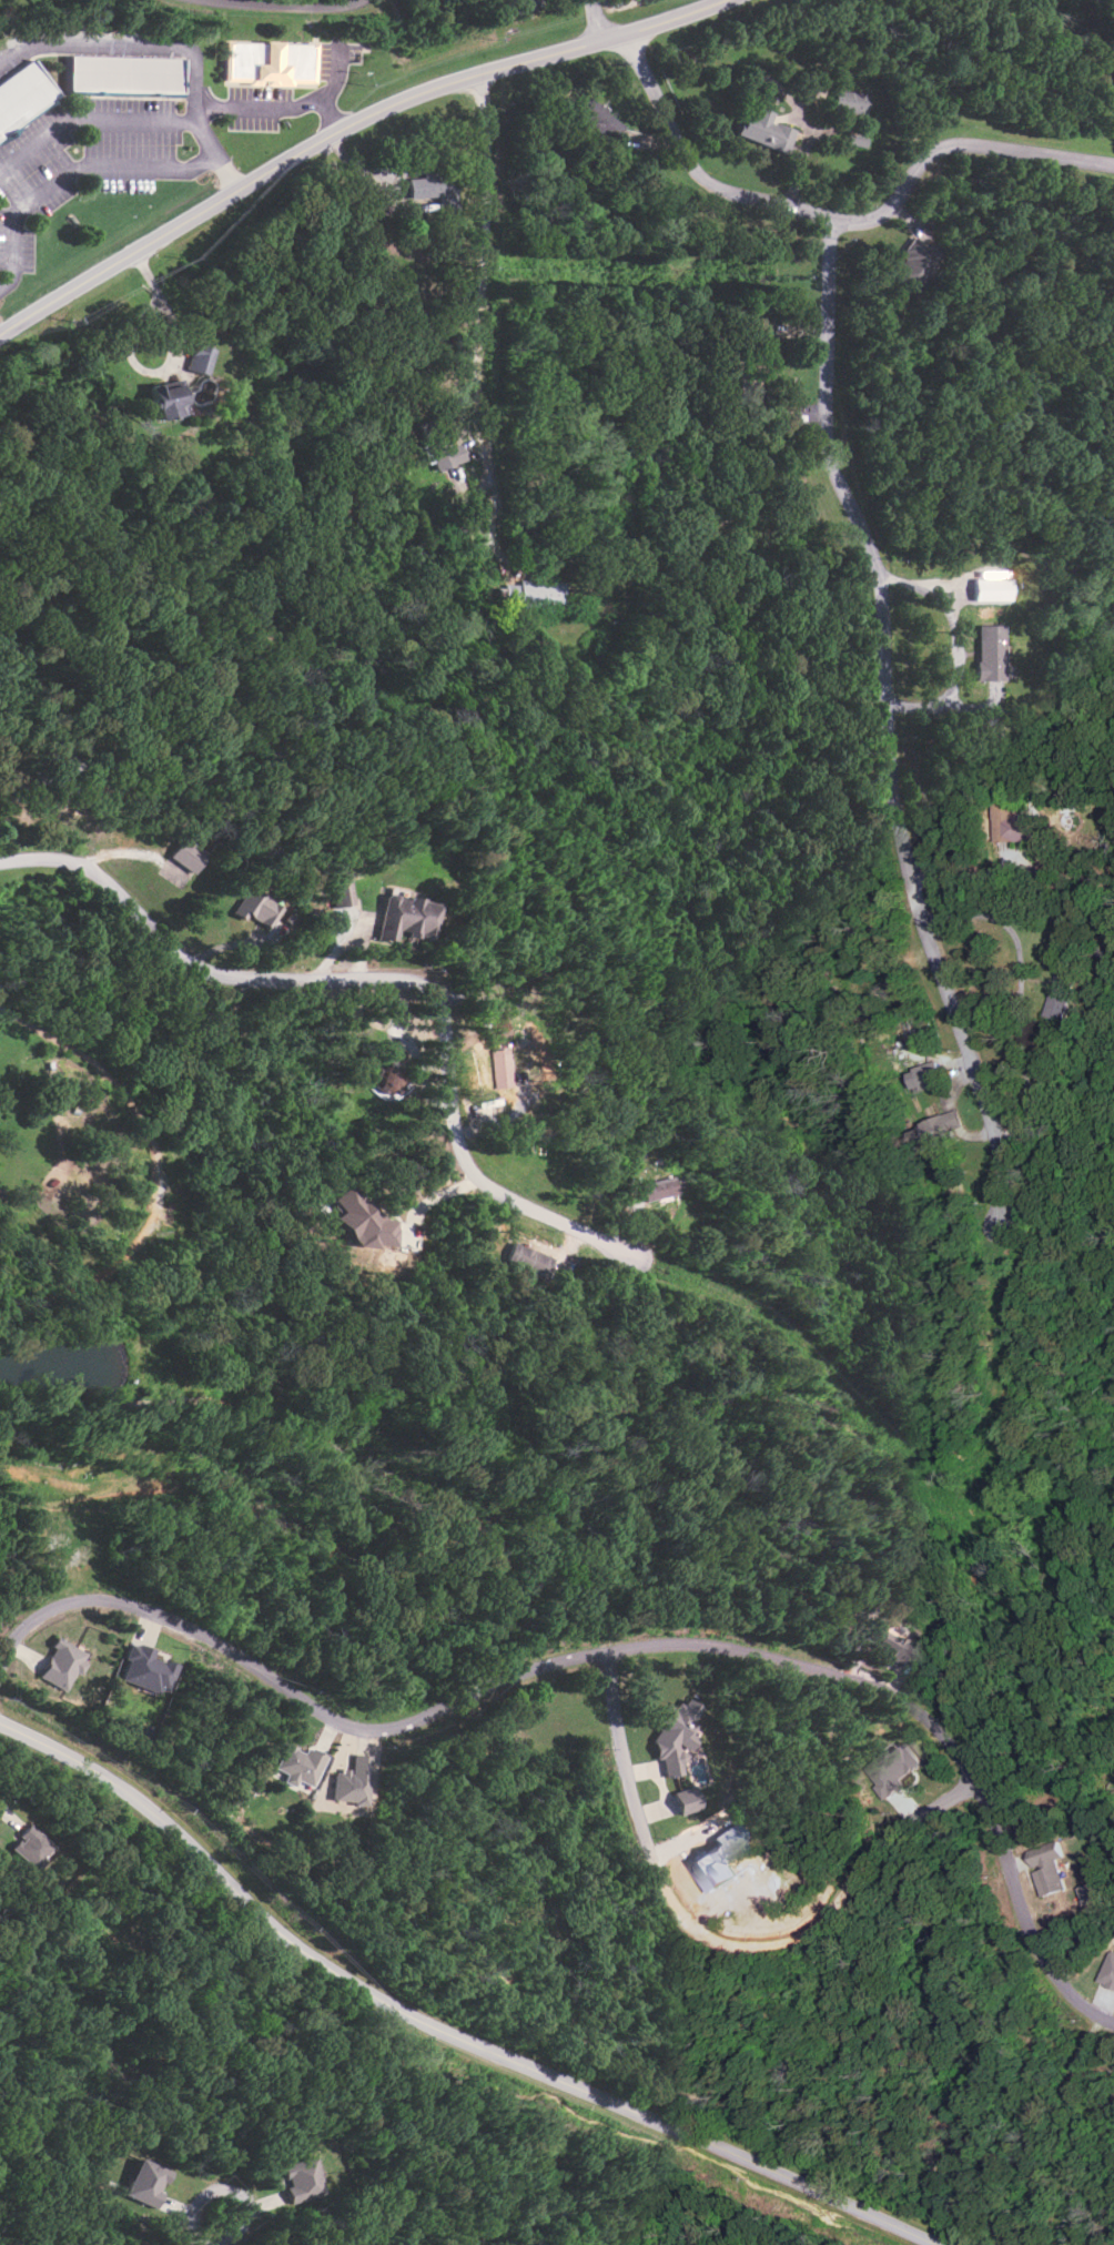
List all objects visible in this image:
building: (525, 6)
road: (284, 8)
road: (600, 20)
building: (273, 63)
building: (125, 74)
building: (23, 94)
building: (849, 102)
building: (596, 119)
road: (169, 120)
road: (343, 129)
building: (763, 131)
road: (216, 151)
road: (71, 171)
building: (432, 189)
road: (838, 223)
building: (912, 263)
road: (482, 287)
building: (760, 357)
building: (198, 358)
building: (165, 400)
building: (443, 452)
building: (990, 589)
building: (526, 594)
building: (990, 653)
road: (888, 735)
building: (1013, 823)
building: (188, 854)
building: (340, 894)
building: (259, 908)
building: (405, 918)
road: (302, 981)
building: (1061, 992)
building: (388, 1068)
building: (502, 1069)
building: (925, 1075)
building: (942, 1125)
building: (656, 1189)
building: (364, 1222)
road: (567, 1230)
building: (528, 1260)
road: (395, 1543)
building: (894, 1649)
road: (614, 1650)
building: (61, 1665)
building: (146, 1671)
road: (478, 1690)
building: (674, 1735)
building: (298, 1764)
building: (893, 1768)
building: (352, 1781)
building: (685, 1800)
building: (29, 1847)
building: (1047, 1867)
building: (1090, 1892)
road: (720, 1939)
building: (1108, 1971)
road: (564, 1984)
road: (439, 2030)
road: (1080, 2071)
building: (300, 2180)
building: (146, 2183)
road: (229, 2190)

